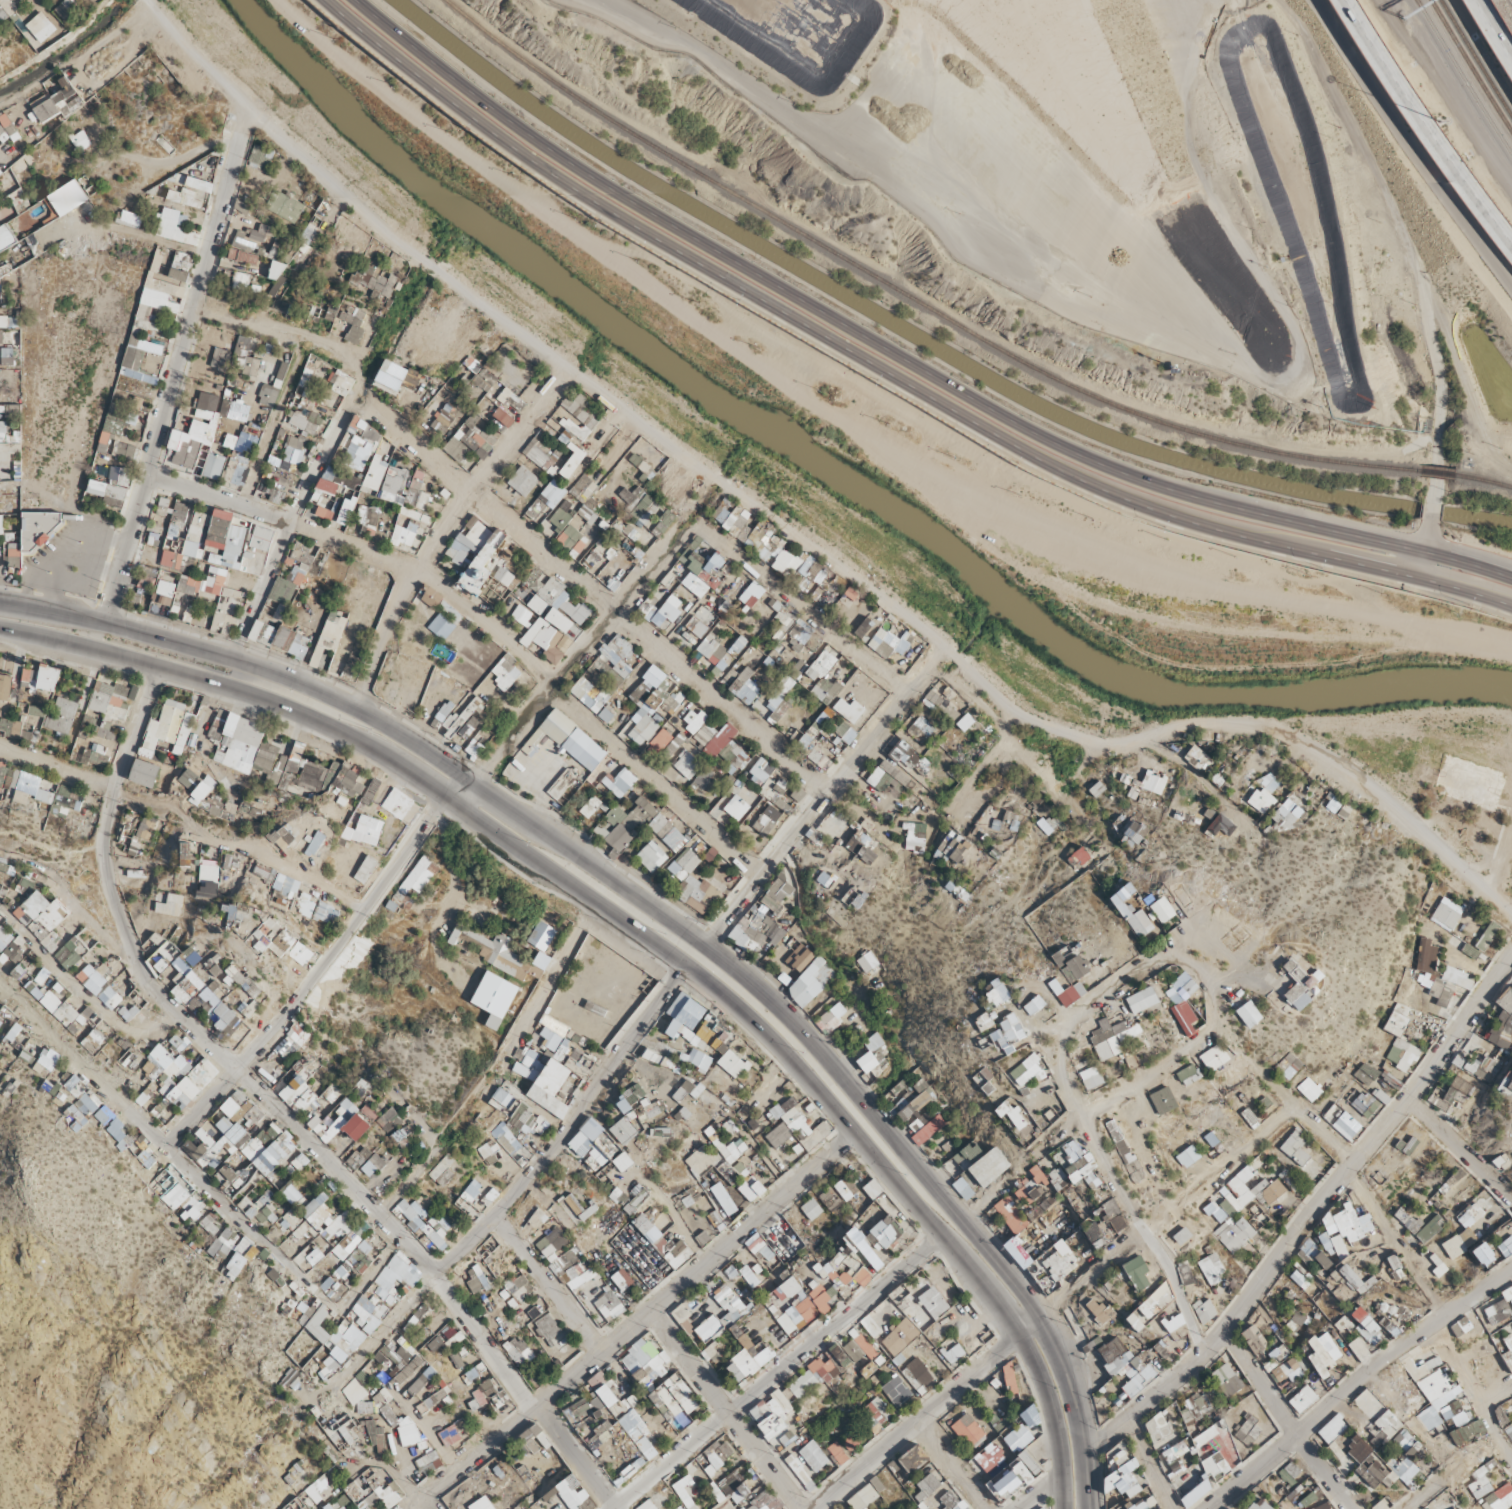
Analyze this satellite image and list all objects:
railway: (955, 1)
railway: (946, 9)
railway: (986, 14)
road: (1498, 23)
railway: (1009, 37)
railway: (1113, 41)
railway: (999, 51)
railway: (1013, 54)
railway: (1473, 59)
railway: (1468, 68)
railway: (1088, 71)
railway: (1017, 78)
railway: (1461, 78)
railway: (1058, 111)
road: (1431, 120)
road: (200, 149)
road: (140, 160)
railway: (721, 186)
railway: (1358, 198)
road: (157, 239)
road: (1403, 239)
road: (1117, 323)
road: (281, 331)
road: (900, 358)
road: (175, 366)
road: (885, 371)
railway: (1439, 413)
road: (270, 423)
building: (9, 434)
railway: (1208, 437)
road: (661, 440)
building: (108, 441)
railway: (1480, 450)
river: (823, 473)
railway: (1438, 473)
railway: (1484, 480)
road: (1431, 509)
road: (293, 512)
road: (443, 529)
road: (799, 536)
road: (1426, 536)
building: (195, 560)
road: (1420, 565)
road: (590, 590)
road: (801, 609)
road: (483, 620)
building: (266, 633)
building: (327, 637)
building: (48, 677)
road: (997, 706)
road: (1003, 742)
building: (165, 759)
building: (248, 760)
road: (1028, 768)
road: (1208, 782)
building: (1158, 785)
road: (820, 791)
building: (43, 794)
road: (1383, 808)
road: (437, 809)
road: (588, 861)
building: (210, 873)
road: (454, 903)
building: (1161, 905)
building: (1447, 915)
road: (1221, 972)
building: (505, 978)
road: (1119, 988)
road: (712, 991)
road: (538, 1004)
building: (1249, 1010)
building: (1107, 1046)
building: (1211, 1058)
building: (175, 1059)
building: (1092, 1075)
road: (768, 1087)
road: (1079, 1116)
building: (507, 1137)
road: (1139, 1153)
road: (1457, 1154)
road: (1235, 1158)
road: (521, 1186)
road: (1366, 1199)
road: (1124, 1200)
road: (1310, 1213)
building: (1343, 1224)
road: (674, 1225)
building: (885, 1230)
road: (636, 1325)
building: (1293, 1366)
road: (975, 1372)
road: (771, 1373)
road: (1351, 1378)
road: (1493, 1392)
building: (1306, 1393)
road: (1076, 1411)
building: (1388, 1421)
road: (1281, 1422)
building: (1164, 1430)
building: (1360, 1457)
road: (1145, 1462)
road: (947, 1465)
road: (1038, 1491)
road: (1416, 1500)
building: (1143, 1501)

